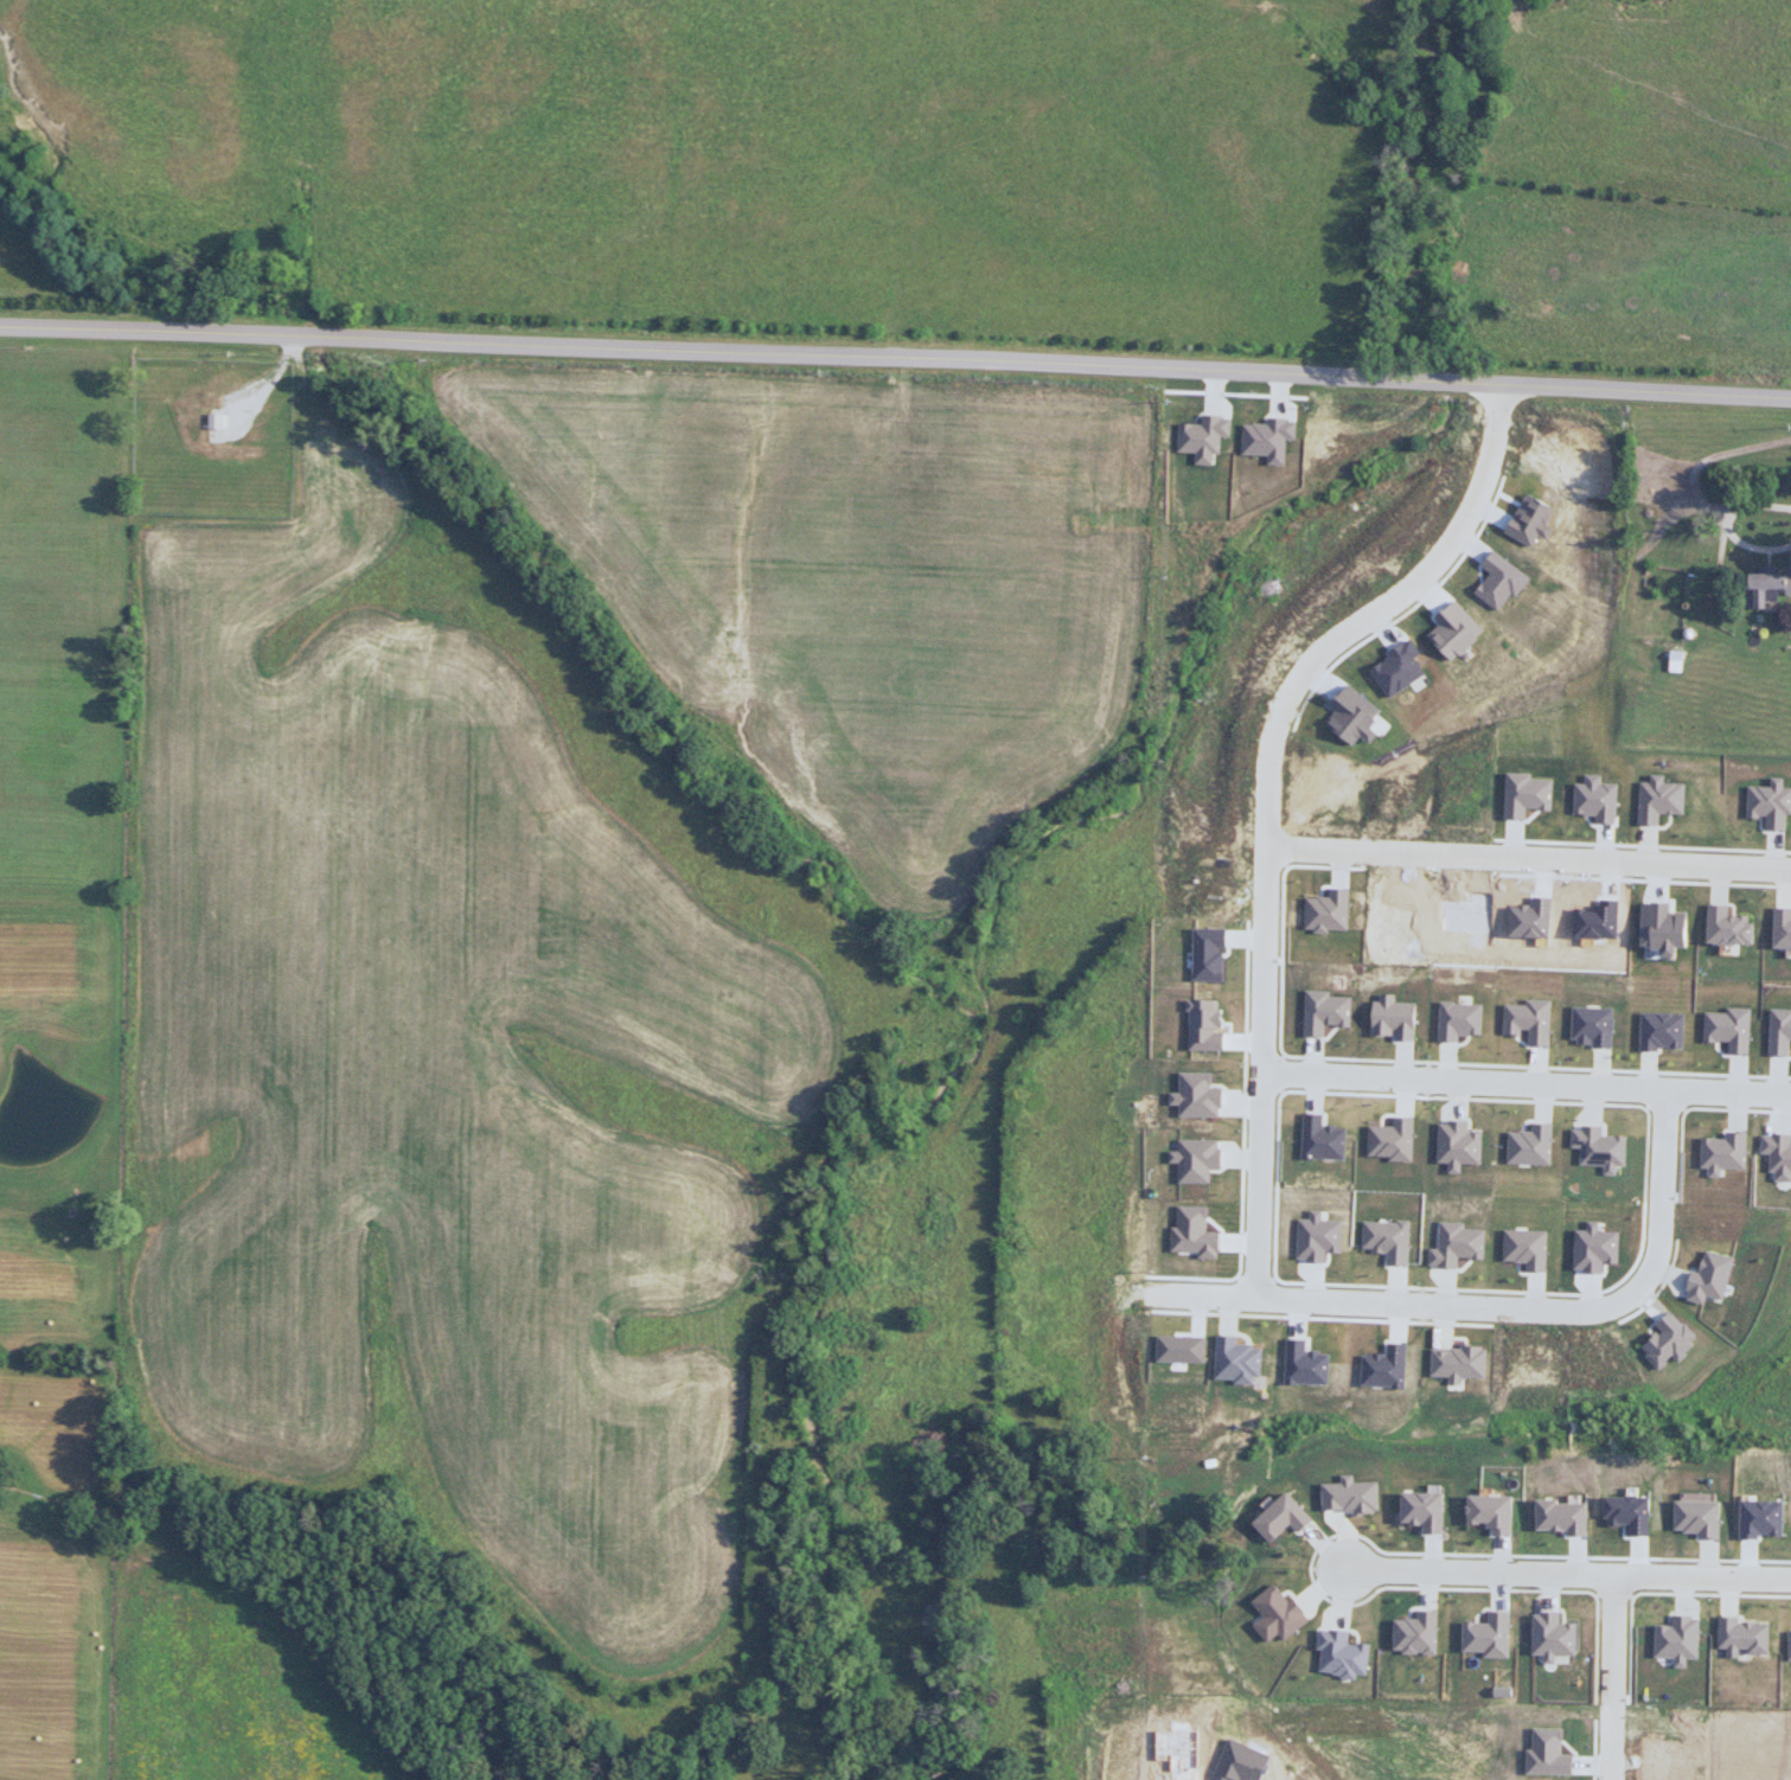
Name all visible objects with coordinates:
road: (895, 354)
building: (1201, 437)
building: (1265, 440)
building: (1525, 519)
road: (1727, 525)
building: (1355, 543)
building: (1496, 580)
building: (1764, 585)
building: (1452, 629)
building: (1396, 667)
road: (1292, 690)
building: (1351, 715)
building: (1527, 793)
building: (1661, 799)
building: (1594, 800)
building: (1770, 805)
road: (1320, 830)
road: (1285, 850)
road: (1529, 857)
building: (1322, 910)
building: (1523, 917)
building: (1595, 920)
building: (1661, 927)
building: (1782, 928)
building: (1725, 929)
building: (1203, 954)
road: (1280, 962)
building: (1323, 1013)
building: (1392, 1017)
building: (1456, 1017)
building: (1524, 1020)
building: (1202, 1024)
building: (1727, 1026)
building: (1588, 1027)
building: (1657, 1029)
building: (1778, 1030)
road: (1279, 1074)
road: (1527, 1084)
building: (1192, 1091)
road: (1663, 1106)
building: (1320, 1136)
building: (1389, 1139)
building: (1457, 1142)
road: (1243, 1145)
building: (1524, 1145)
building: (1599, 1145)
building: (1720, 1151)
building: (1777, 1153)
building: (1194, 1160)
road: (1260, 1185)
building: (1191, 1231)
building: (1316, 1234)
building: (1384, 1237)
building: (1454, 1241)
building: (1594, 1247)
building: (1523, 1248)
road: (1626, 1273)
building: (1709, 1275)
road: (1254, 1279)
road: (1498, 1307)
road: (1555, 1327)
building: (1667, 1340)
building: (1177, 1347)
building: (1233, 1360)
building: (1458, 1360)
building: (1303, 1362)
building: (1380, 1366)
building: (1348, 1493)
building: (1420, 1506)
building: (1624, 1510)
building: (1490, 1511)
building: (1560, 1512)
building: (1279, 1516)
building: (1696, 1516)
building: (1758, 1517)
road: (1309, 1565)
road: (1566, 1581)
road: (1655, 1601)
road: (1608, 1603)
building: (1279, 1621)
building: (1414, 1640)
building: (1485, 1644)
building: (1550, 1644)
building: (1740, 1644)
building: (1675, 1647)
building: (1786, 1652)
building: (1339, 1660)
road: (1608, 1680)
building: (1177, 1754)
building: (1548, 1760)
building: (1671, 1762)
building: (1240, 1766)

